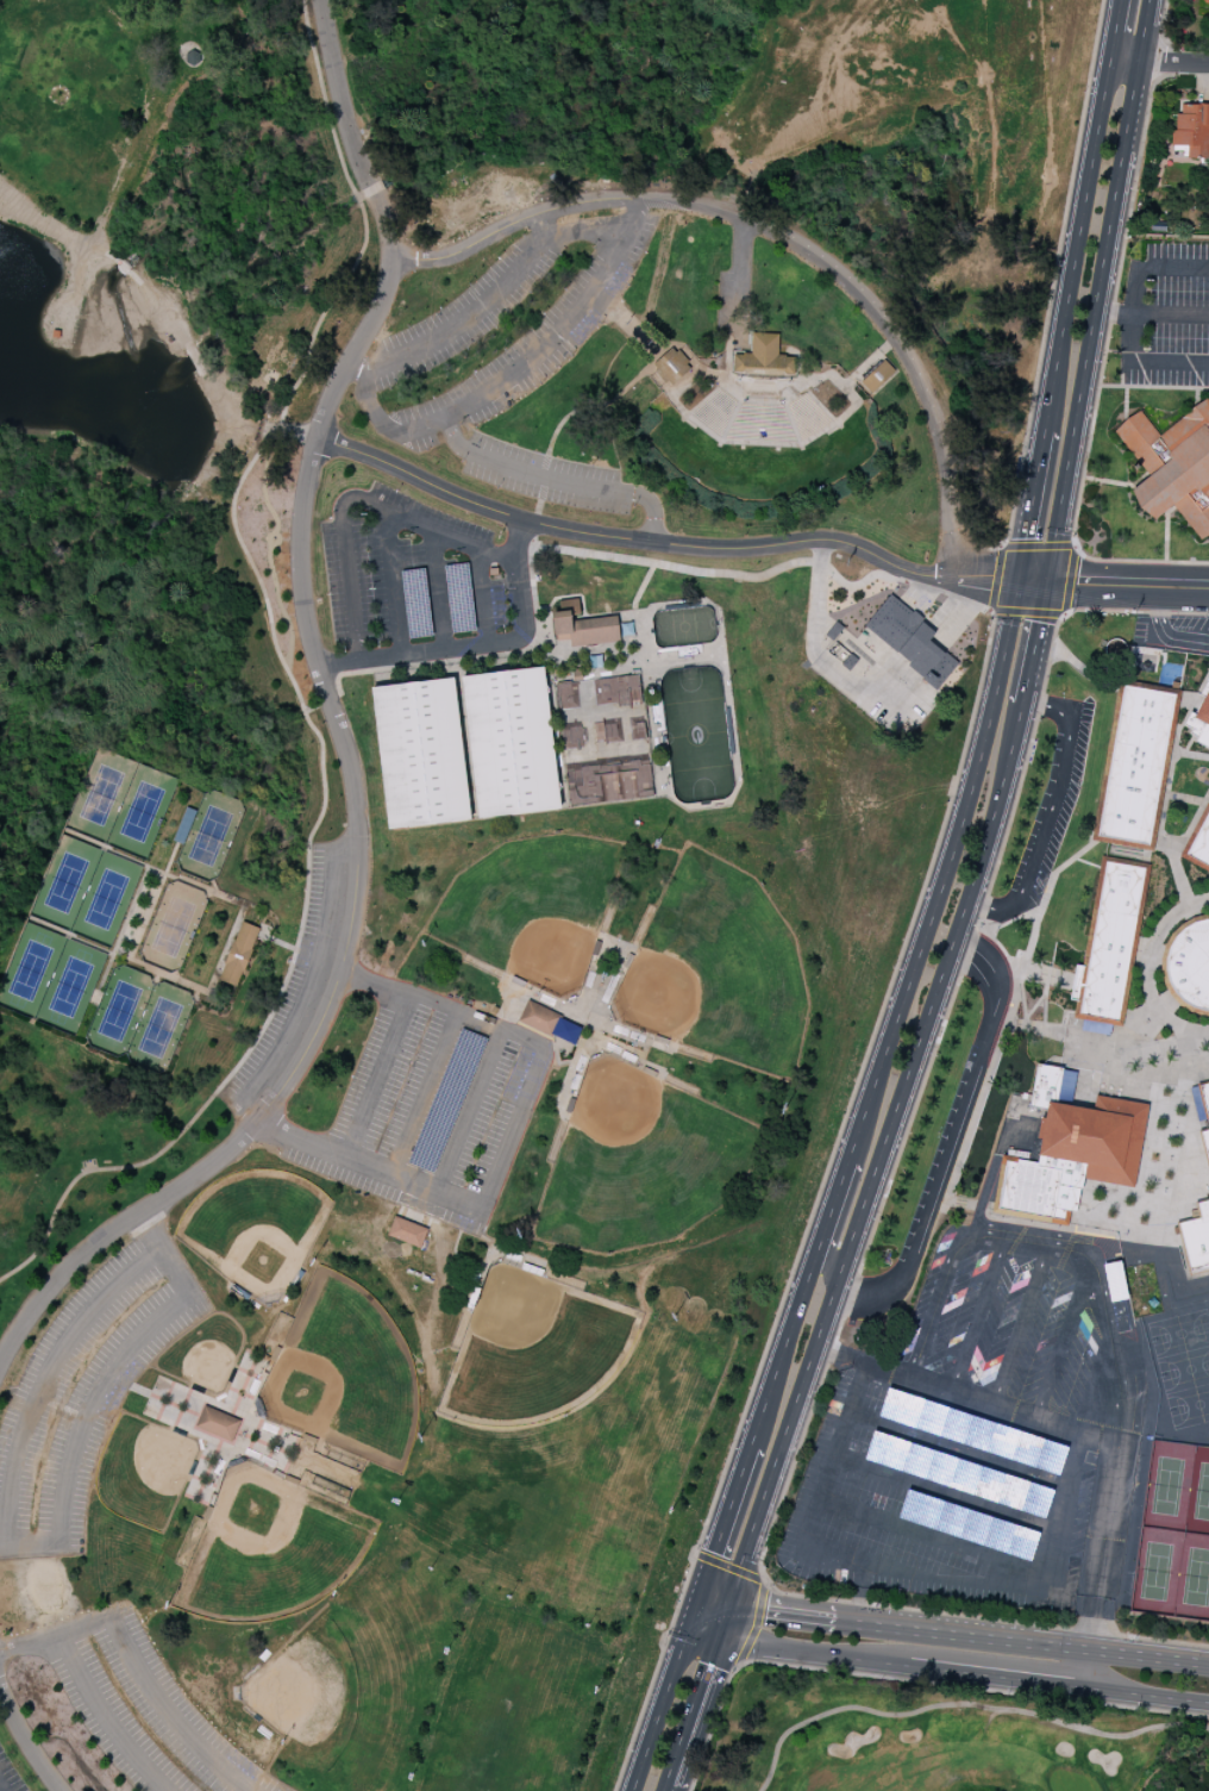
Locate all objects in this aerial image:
building: (1205, 1)
road: (305, 19)
road: (1114, 29)
building: (193, 57)
road: (1158, 61)
road: (342, 93)
road: (741, 99)
road: (330, 117)
building: (1192, 130)
road: (571, 185)
road: (372, 193)
road: (8, 198)
road: (357, 200)
road: (562, 205)
road: (574, 231)
road: (1076, 244)
road: (104, 257)
road: (1173, 268)
road: (660, 270)
road: (740, 279)
road: (1053, 283)
road: (1100, 291)
road: (1115, 313)
road: (1133, 313)
road: (1171, 313)
road: (465, 319)
building: (62, 330)
parking lot: (500, 331)
road: (638, 331)
road: (549, 342)
road: (1107, 342)
road: (195, 361)
building: (765, 361)
road: (908, 361)
road: (1169, 361)
building: (671, 368)
building: (877, 376)
road: (1154, 387)
road: (619, 395)
road: (369, 402)
road: (231, 410)
road: (295, 433)
building: (1172, 466)
parking lot: (545, 476)
road: (556, 481)
road: (1109, 481)
road: (264, 486)
road: (356, 498)
road: (1031, 505)
road: (628, 538)
road: (1006, 547)
parking lot: (409, 573)
road: (768, 573)
road: (983, 578)
traffic signals: (1017, 580)
traffic signals: (1048, 582)
road: (393, 584)
road: (1113, 585)
road: (438, 592)
road: (482, 597)
parking lot: (919, 598)
road: (1060, 613)
road: (961, 614)
building: (582, 626)
building: (833, 631)
road: (1164, 634)
building: (910, 639)
road: (478, 644)
road: (1034, 649)
road: (501, 654)
road: (823, 662)
building: (616, 692)
road: (339, 694)
road: (330, 699)
road: (312, 707)
building: (1199, 723)
building: (612, 731)
building: (572, 736)
park: (604, 740)
building: (510, 743)
building: (420, 754)
building: (1135, 766)
building: (607, 782)
road: (325, 788)
road: (1184, 798)
park: (120, 803)
park: (459, 811)
road: (1163, 811)
road: (1052, 812)
building: (183, 825)
park: (209, 836)
road: (357, 837)
building: (1198, 842)
road: (170, 859)
road: (152, 868)
road: (944, 874)
road: (1178, 875)
road: (213, 886)
road: (1048, 888)
park: (84, 892)
road: (131, 911)
road: (144, 916)
road: (1010, 921)
park: (171, 926)
road: (237, 926)
road: (248, 931)
road: (992, 938)
building: (1110, 942)
road: (278, 943)
road: (226, 949)
road: (1142, 953)
building: (238, 954)
road: (117, 955)
building: (1188, 966)
road: (1147, 968)
park: (50, 978)
road: (104, 978)
road: (1036, 984)
road: (195, 994)
road: (444, 1005)
building: (538, 1018)
park: (138, 1019)
road: (1165, 1048)
road: (378, 1078)
building: (1045, 1086)
road: (426, 1093)
road: (982, 1096)
parking lot: (431, 1107)
road: (469, 1110)
building: (1205, 1130)
road: (297, 1138)
road: (945, 1156)
building: (1072, 1159)
road: (879, 1160)
road: (815, 1203)
road: (832, 1207)
building: (407, 1233)
building: (1196, 1238)
road: (869, 1244)
road: (1050, 1246)
road: (978, 1315)
road: (1021, 1325)
park: (477, 1331)
road: (1061, 1341)
road: (782, 1352)
park: (1184, 1366)
road: (45, 1378)
road: (100, 1386)
parking lot: (84, 1390)
road: (966, 1396)
parking lot: (972, 1422)
building: (217, 1424)
road: (958, 1448)
park: (1167, 1487)
road: (945, 1492)
park: (1198, 1494)
road: (725, 1521)
road: (932, 1536)
road: (1098, 1567)
road: (897, 1572)
park: (1157, 1572)
park: (1192, 1580)
road: (765, 1586)
traffic signals: (702, 1590)
road: (715, 1595)
road: (860, 1596)
traffic signals: (729, 1600)
road: (697, 1605)
road: (723, 1616)
road: (781, 1616)
traffic signals: (693, 1621)
road: (706, 1627)
traffic signals: (719, 1633)
road: (1022, 1643)
road: (812, 1654)
road: (136, 1664)
road: (995, 1678)
road: (726, 1690)
road: (1145, 1696)
road: (663, 1705)
parking lot: (138, 1708)
road: (691, 1708)
road: (106, 1717)
park: (921, 1721)
road: (27, 1741)
parking lot: (10, 1774)
road: (2, 1786)
road: (664, 1787)

